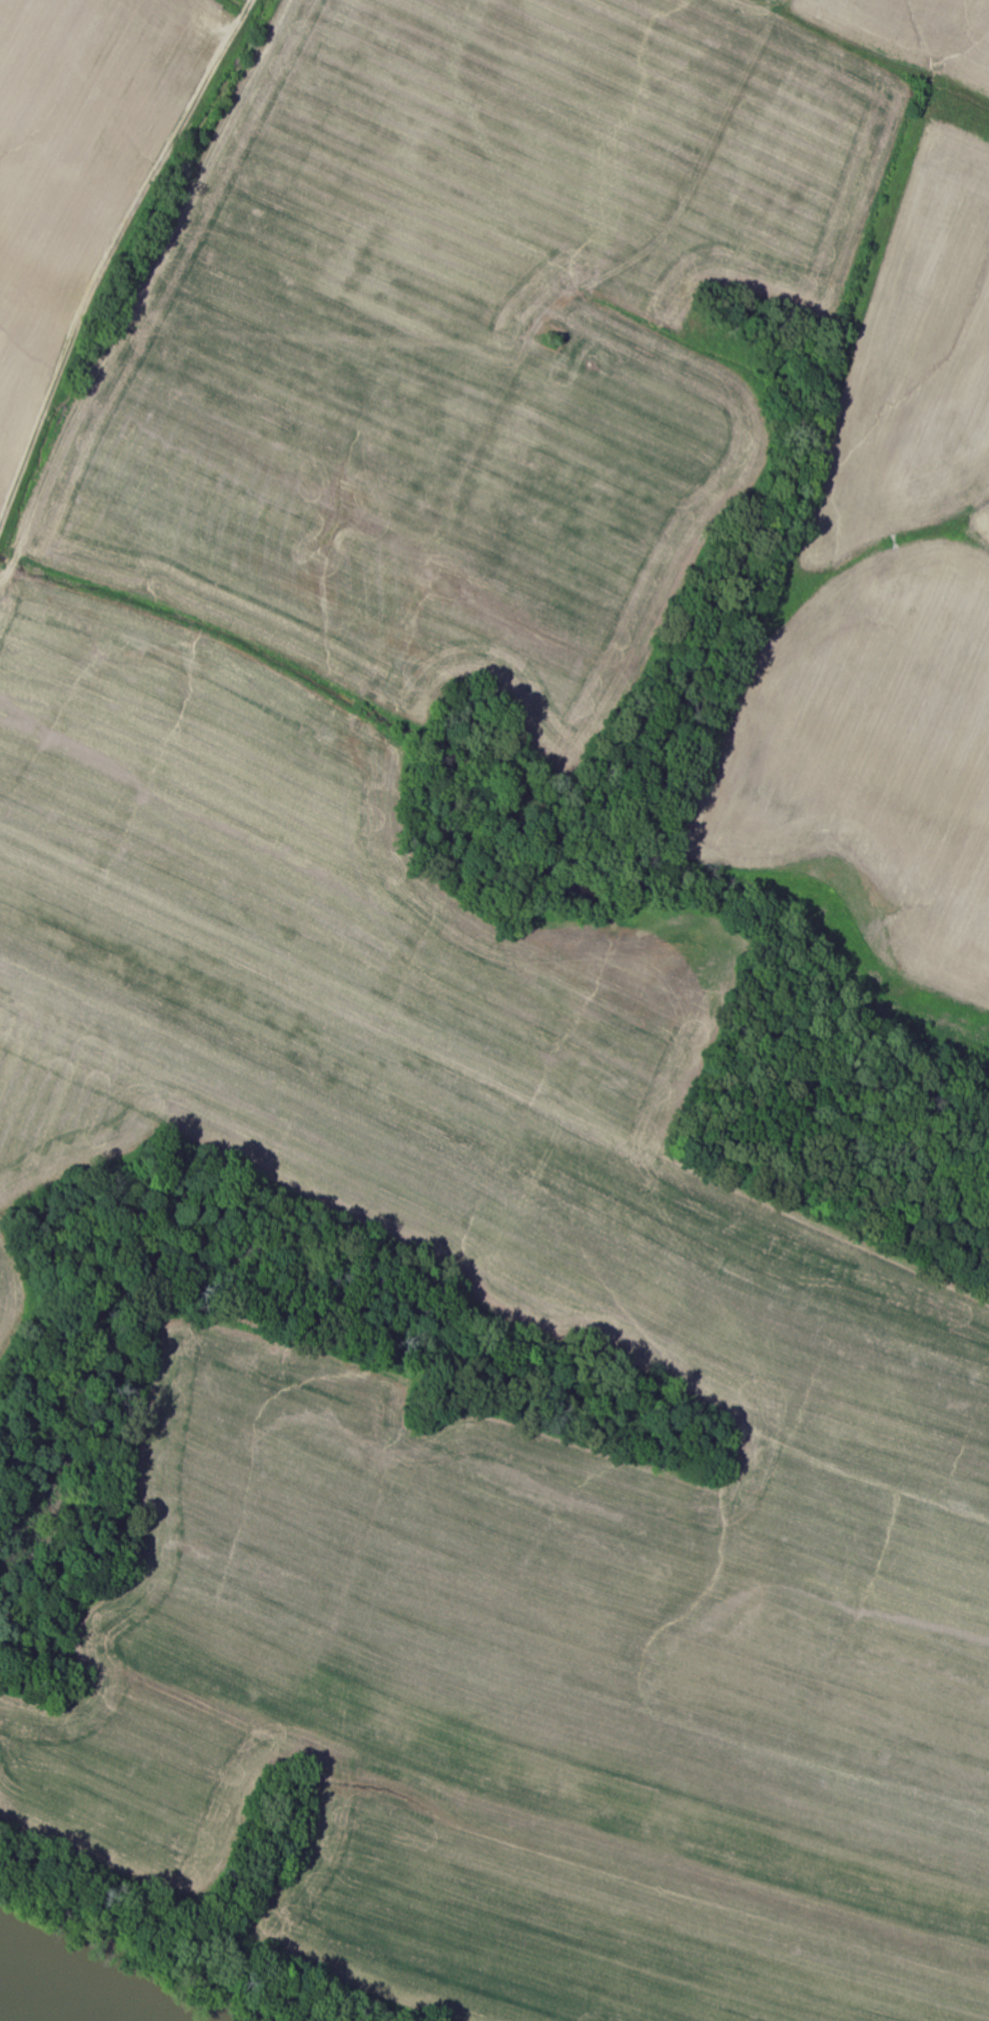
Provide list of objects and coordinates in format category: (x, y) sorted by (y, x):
river: (2, 2019)

